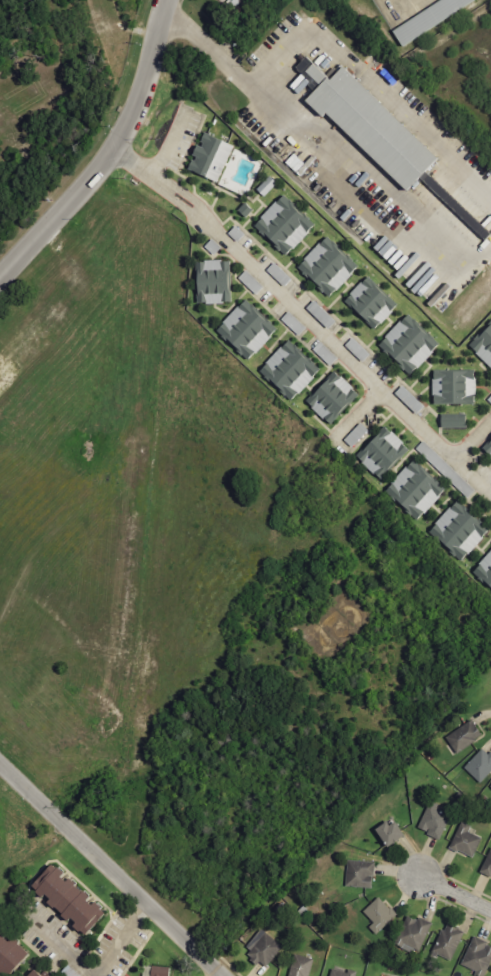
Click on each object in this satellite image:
building: (430, 20)
building: (368, 122)
building: (0, 124)
road: (109, 153)
building: (211, 155)
building: (282, 224)
building: (372, 236)
building: (329, 264)
building: (212, 279)
building: (370, 301)
road: (305, 315)
building: (245, 328)
building: (409, 343)
building: (484, 343)
building: (290, 369)
building: (454, 385)
building: (333, 396)
building: (452, 421)
road: (472, 434)
building: (355, 435)
building: (488, 445)
building: (383, 450)
building: (415, 486)
building: (458, 530)
building: (485, 568)
building: (464, 736)
building: (480, 765)
building: (434, 822)
building: (388, 832)
building: (465, 841)
building: (487, 865)
road: (110, 868)
building: (359, 874)
road: (455, 892)
building: (64, 898)
building: (379, 915)
building: (413, 934)
road: (125, 940)
building: (448, 941)
road: (65, 947)
building: (264, 948)
building: (8, 953)
building: (477, 957)
building: (301, 966)
building: (153, 971)
building: (31, 973)
building: (343, 973)

